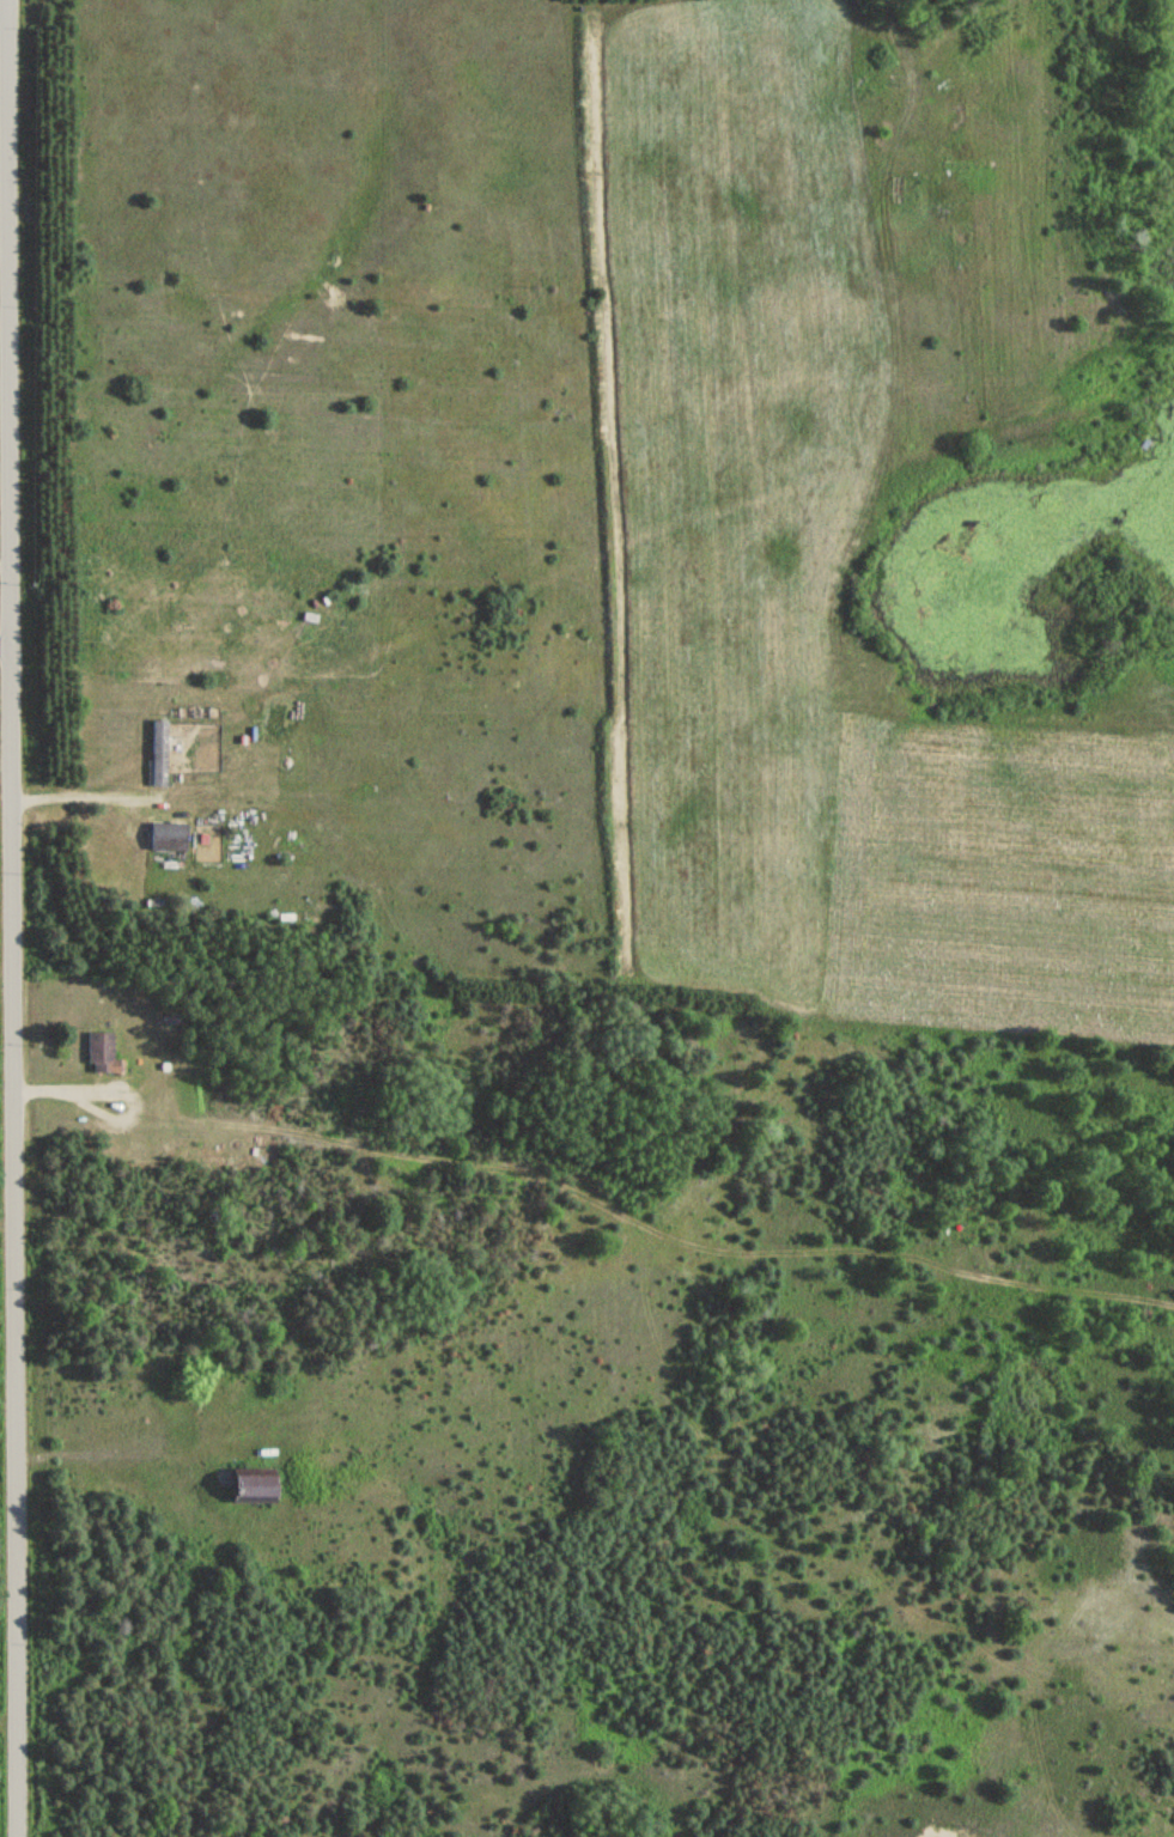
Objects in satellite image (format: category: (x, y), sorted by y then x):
building: (159, 752)
building: (165, 837)
road: (11, 918)
building: (101, 1054)
building: (245, 1486)

